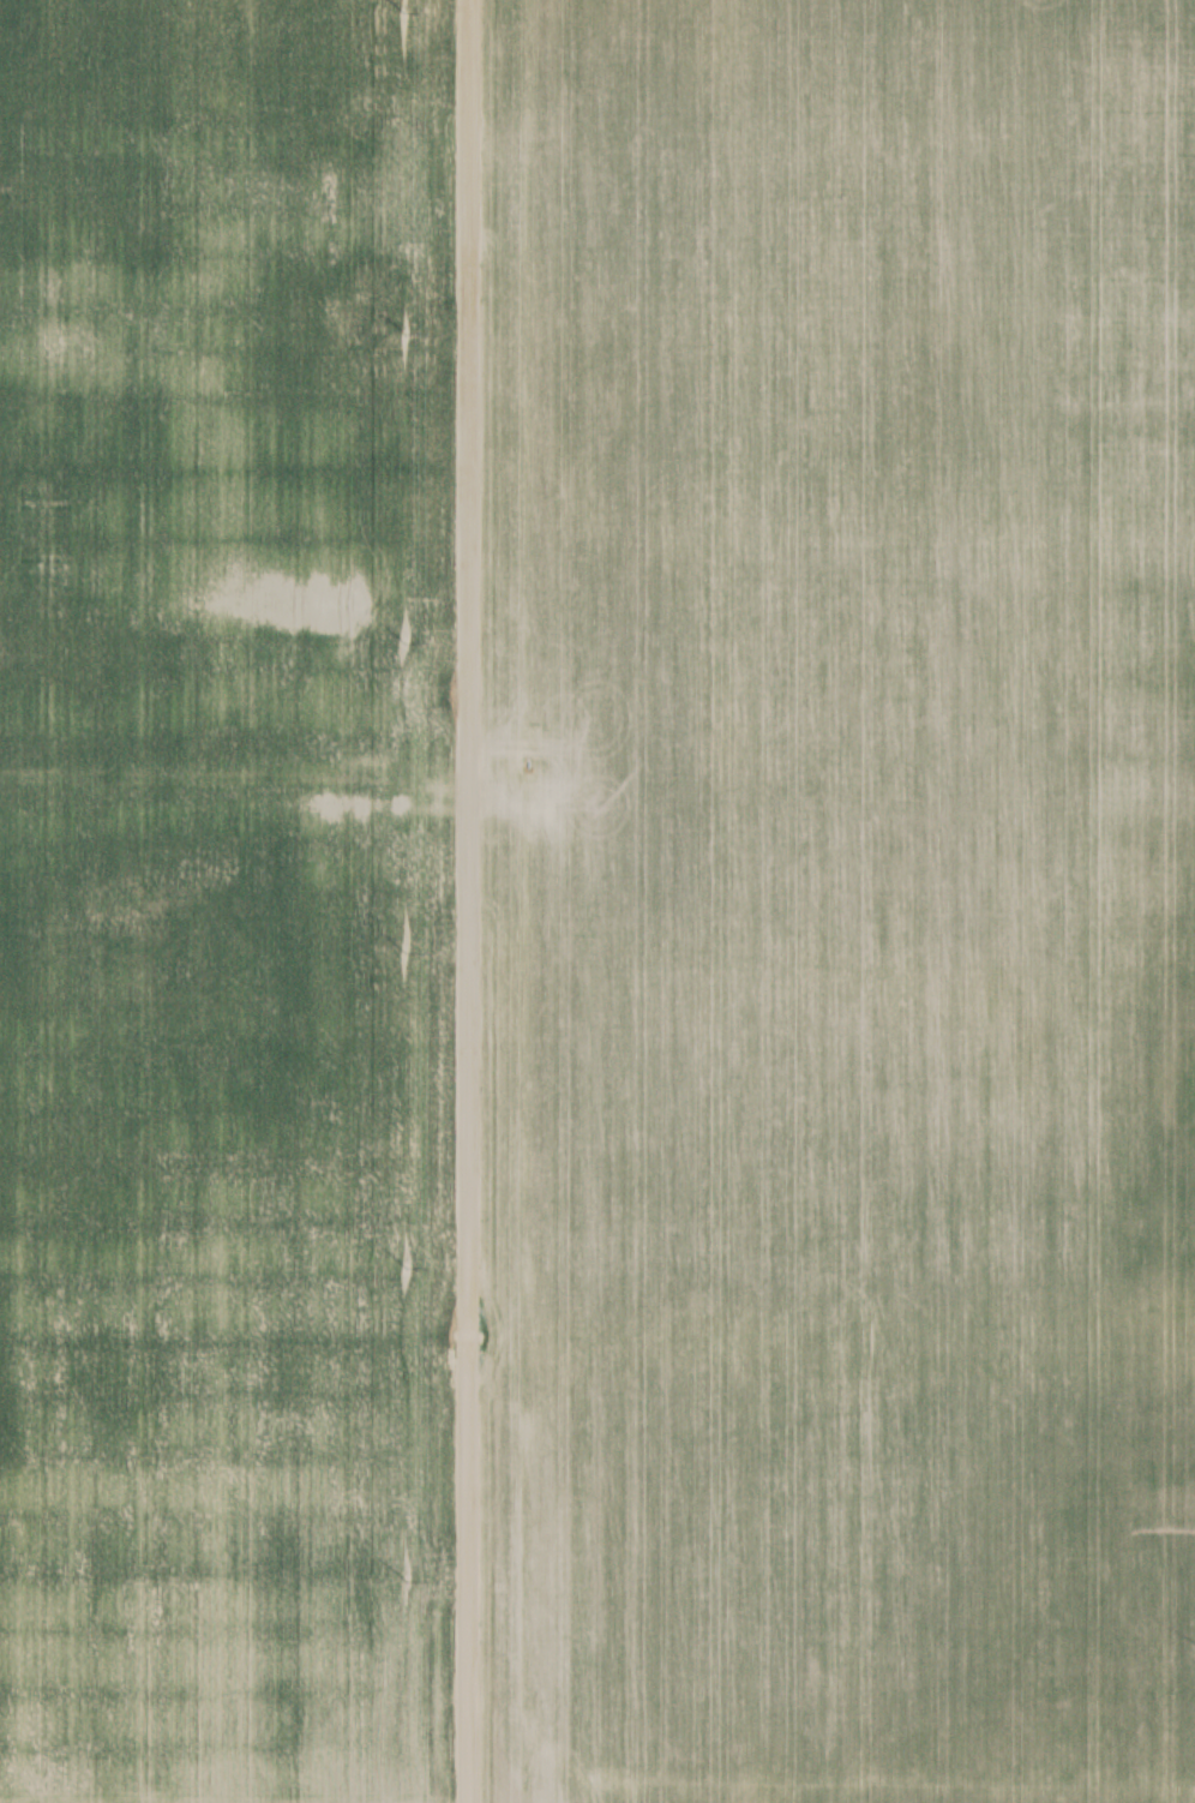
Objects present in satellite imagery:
road: (470, 901)

